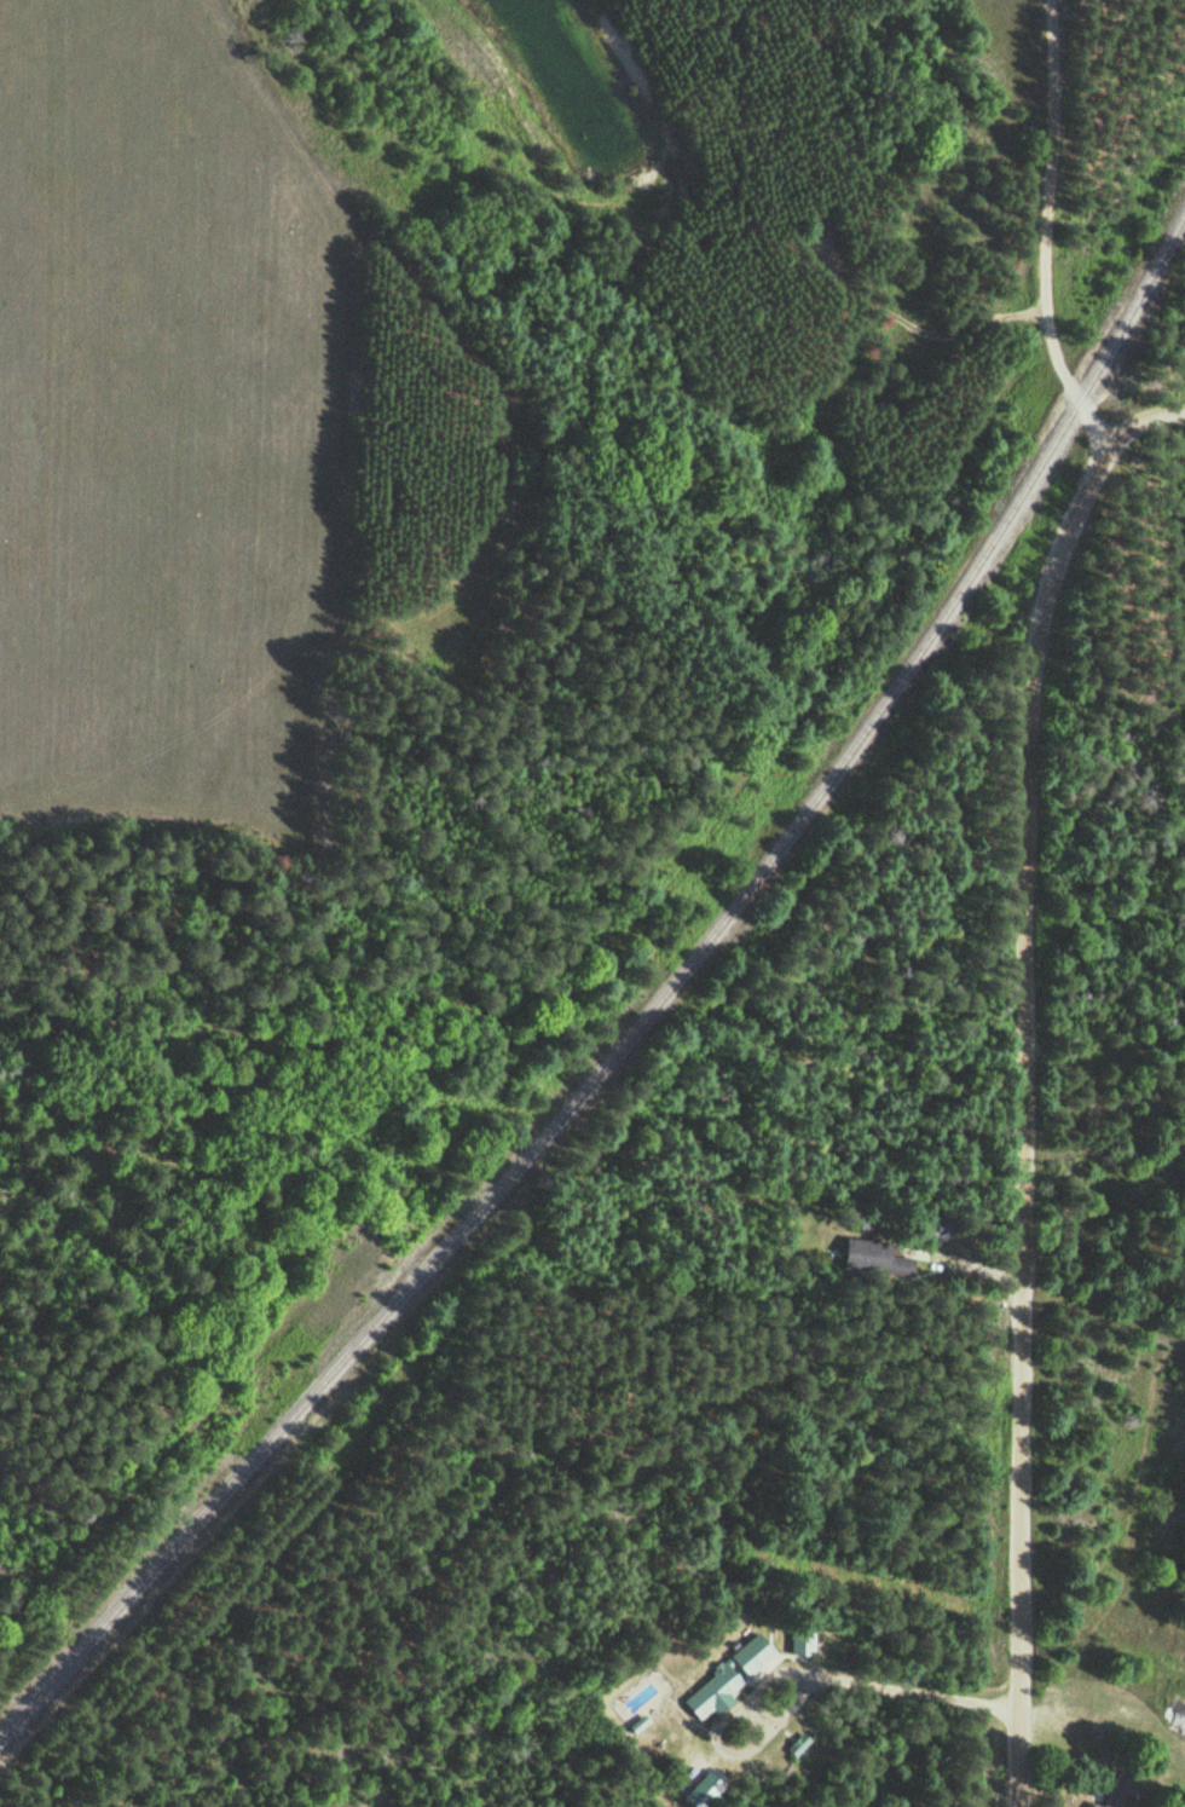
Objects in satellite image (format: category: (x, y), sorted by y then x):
road: (1141, 418)
road: (1031, 888)
railway: (644, 1015)
road: (1106, 1066)
building: (869, 1258)
building: (798, 1643)
building: (727, 1674)
building: (1175, 1722)
building: (1114, 1790)

